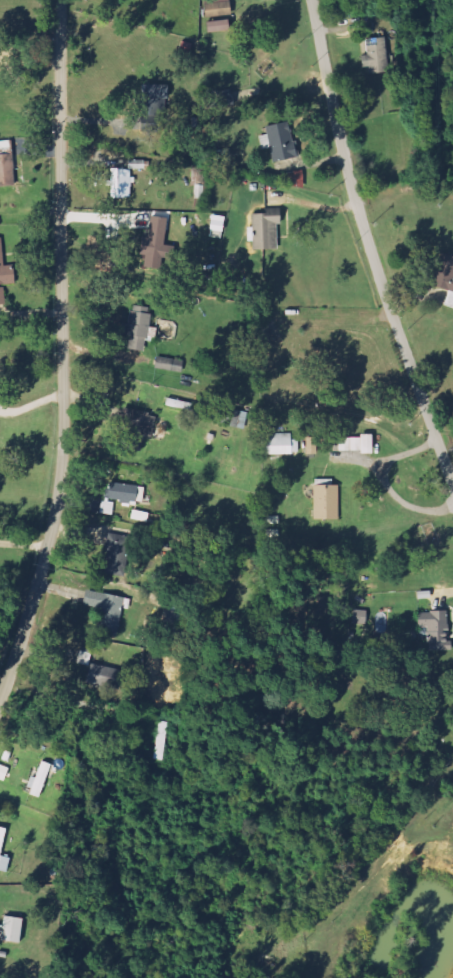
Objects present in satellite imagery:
building: (215, 7)
building: (215, 25)
building: (374, 55)
building: (222, 97)
building: (155, 107)
building: (282, 141)
building: (7, 163)
building: (122, 183)
building: (219, 226)
building: (268, 230)
building: (159, 244)
road: (369, 245)
building: (7, 268)
building: (445, 274)
building: (3, 295)
building: (142, 327)
road: (63, 352)
building: (172, 364)
building: (139, 429)
building: (352, 443)
building: (371, 443)
building: (283, 444)
building: (314, 445)
building: (126, 492)
building: (328, 502)
building: (108, 507)
building: (119, 554)
building: (109, 611)
building: (438, 629)
building: (108, 672)
building: (42, 779)
building: (4, 850)
building: (15, 929)

